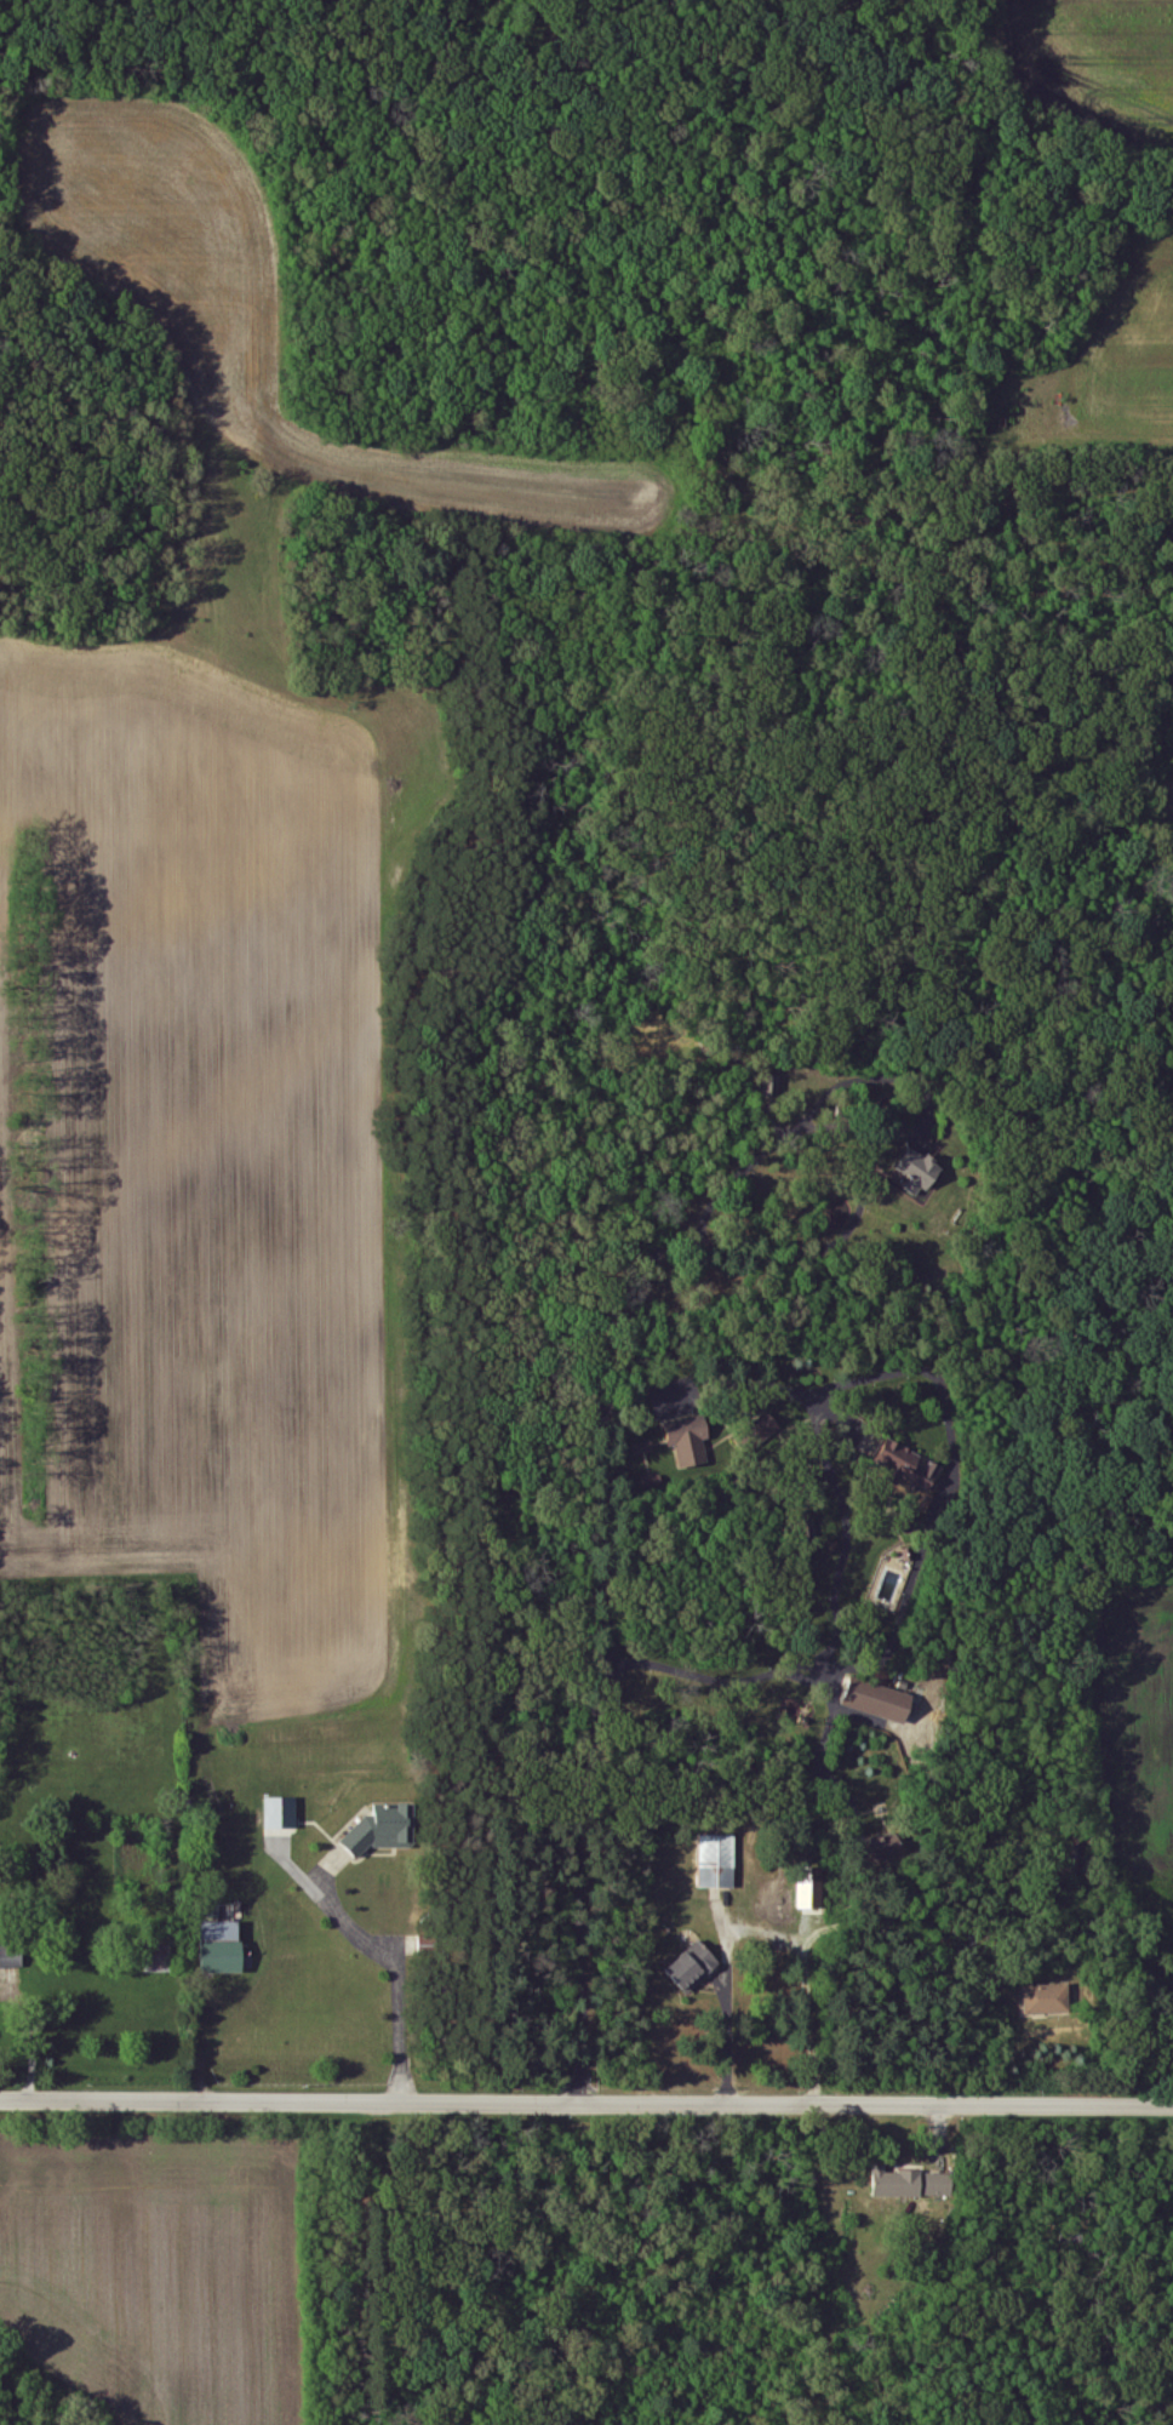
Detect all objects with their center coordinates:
road: (879, 1080)
building: (769, 1086)
road: (1158, 1129)
building: (917, 1172)
road: (657, 1389)
road: (1065, 1400)
building: (688, 1442)
building: (908, 1468)
road: (944, 1488)
building: (877, 1701)
road: (586, 1779)
building: (280, 1814)
building: (380, 1830)
building: (879, 1848)
building: (717, 1861)
building: (809, 1888)
road: (762, 1934)
building: (221, 1948)
building: (11, 1957)
building: (692, 1968)
road: (394, 1973)
building: (1046, 2000)
road: (586, 2100)
building: (896, 2184)
building: (938, 2185)

